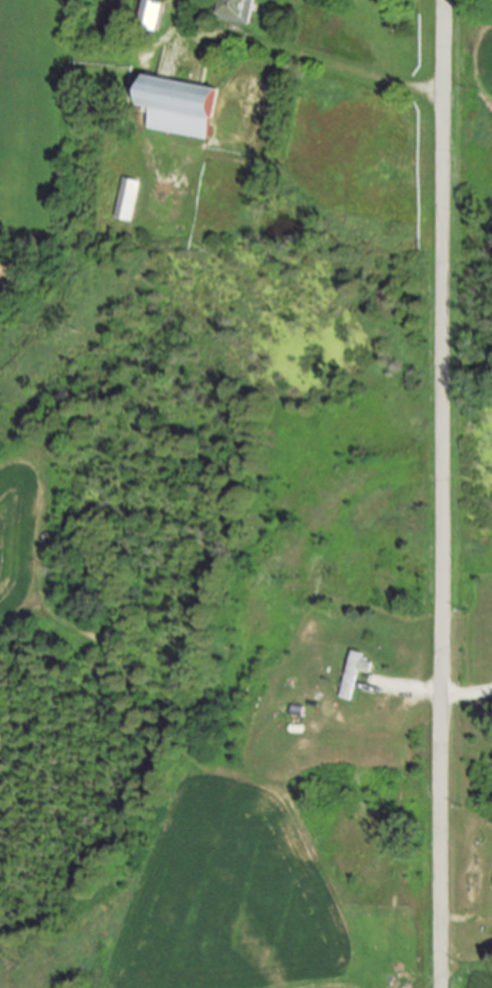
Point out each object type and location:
building: (234, 11)
building: (151, 13)
road: (295, 56)
building: (178, 105)
building: (126, 198)
road: (441, 493)
road: (435, 691)

